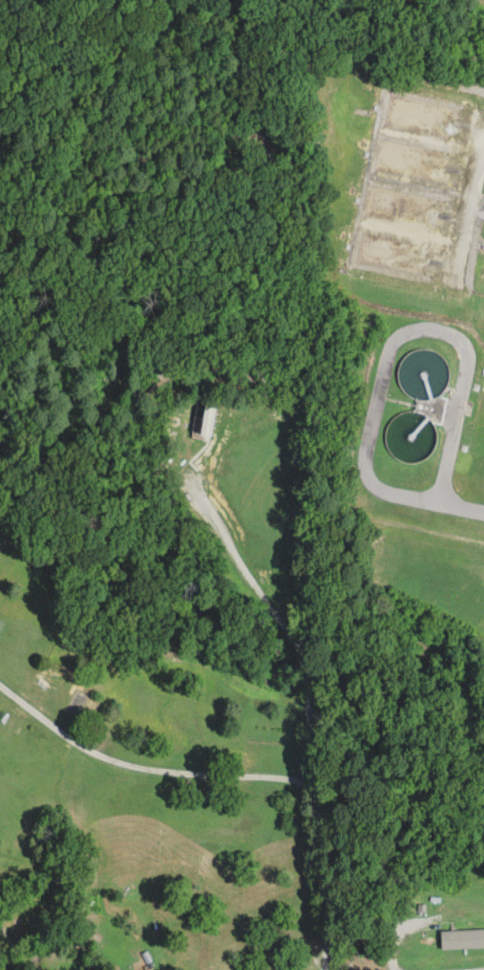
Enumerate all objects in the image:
road: (246, 760)
building: (446, 937)
road: (480, 969)

